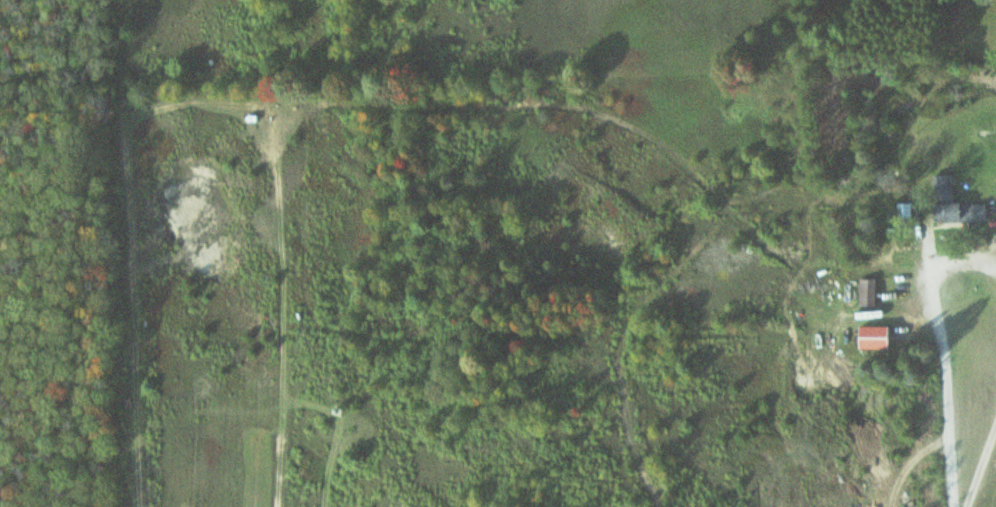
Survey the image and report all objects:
building: (943, 187)
building: (961, 212)
building: (870, 293)
building: (878, 338)
road: (986, 476)

